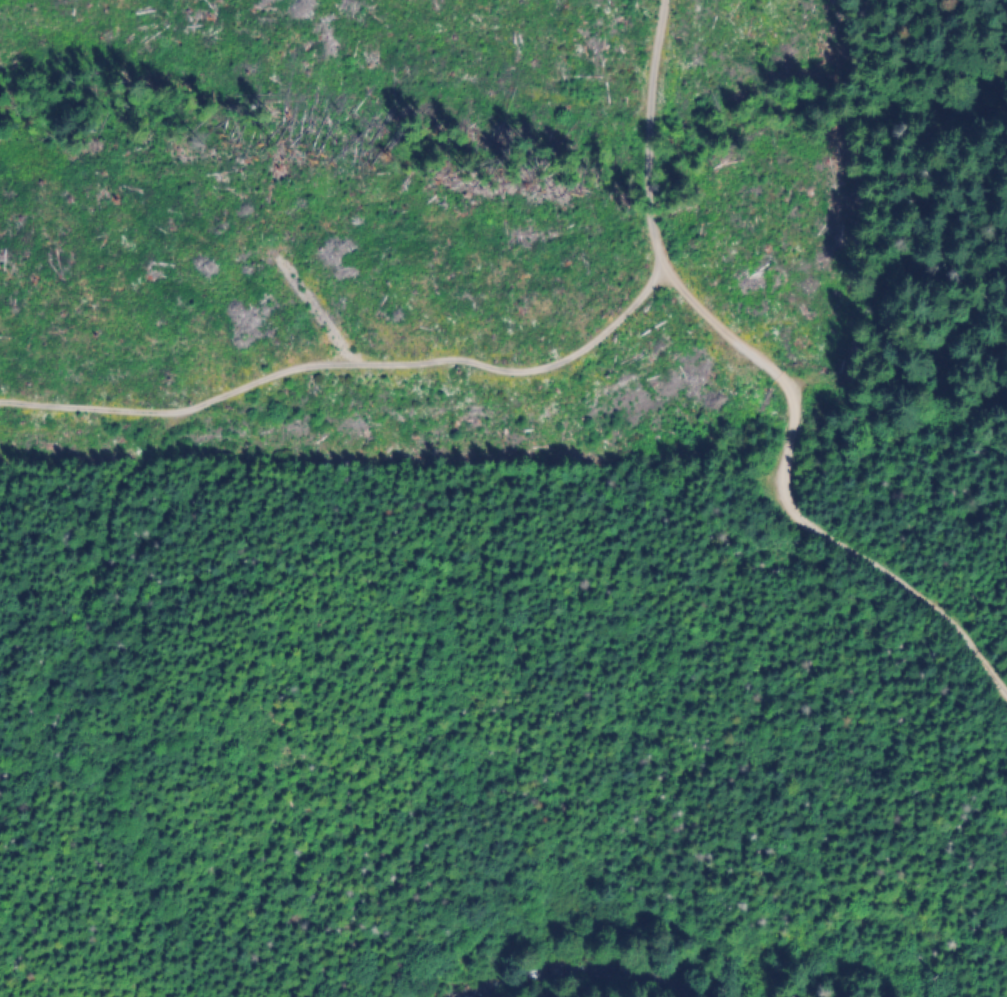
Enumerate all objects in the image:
road: (779, 373)

